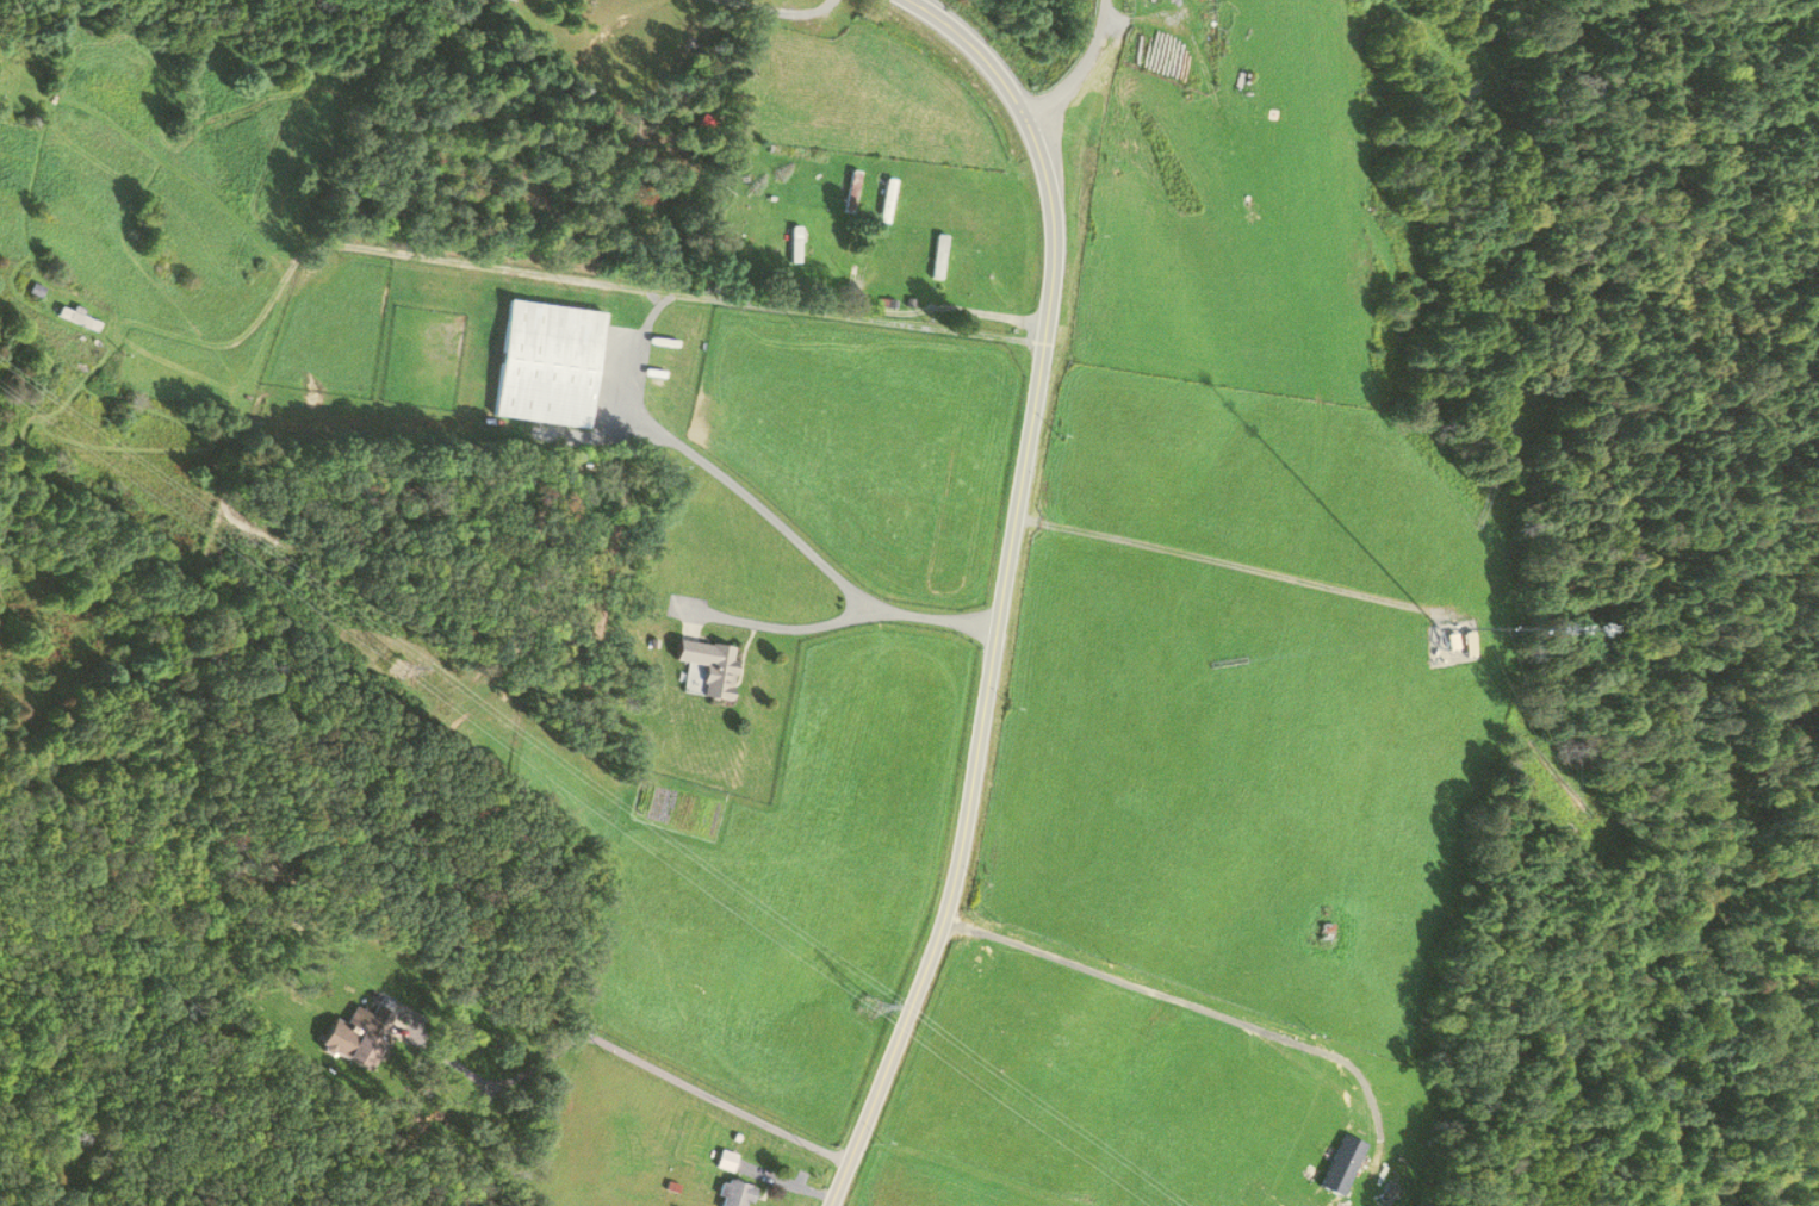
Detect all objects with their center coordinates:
road: (1076, 68)
building: (851, 192)
building: (887, 200)
road: (564, 275)
building: (547, 362)
road: (1002, 588)
building: (1459, 646)
building: (706, 669)
power tower: (870, 1006)
building: (368, 1036)
road: (592, 1036)
building: (726, 1161)
building: (734, 1194)

